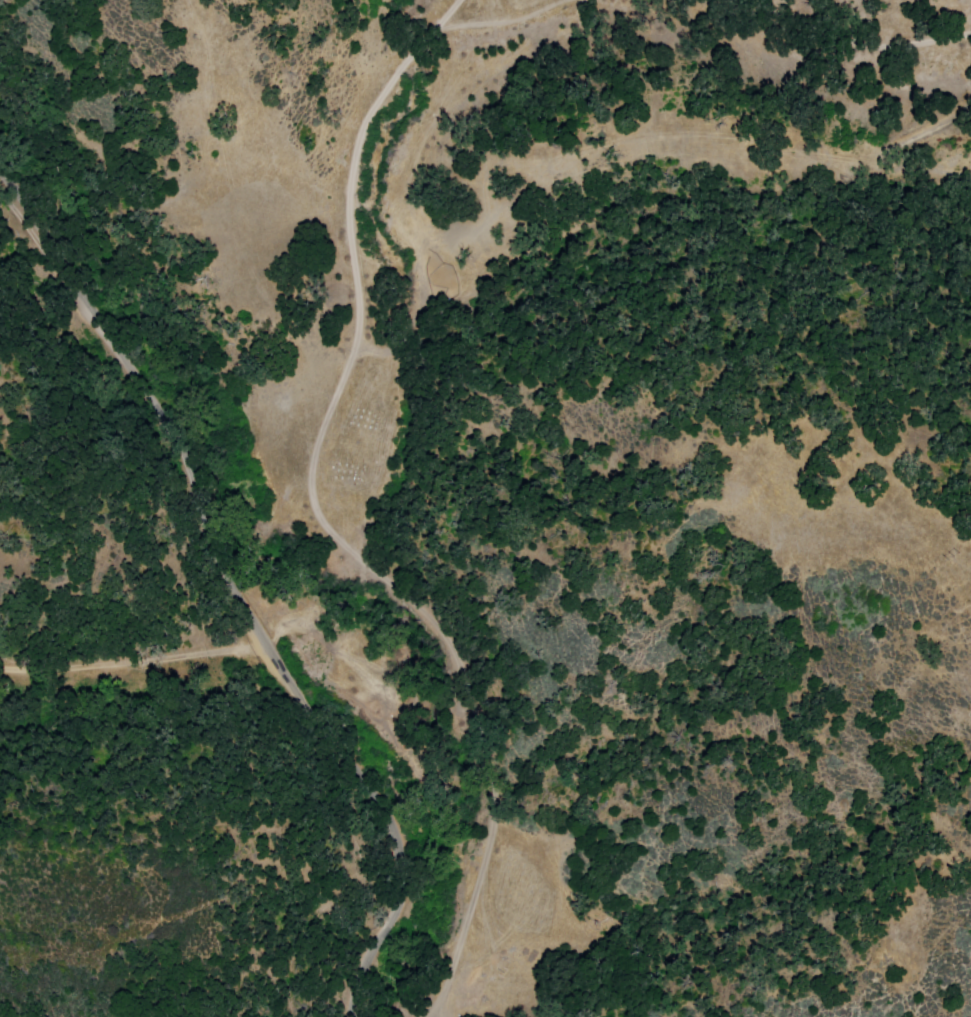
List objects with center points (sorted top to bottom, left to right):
road: (867, 40)
road: (310, 480)
road: (245, 609)
road: (133, 664)

